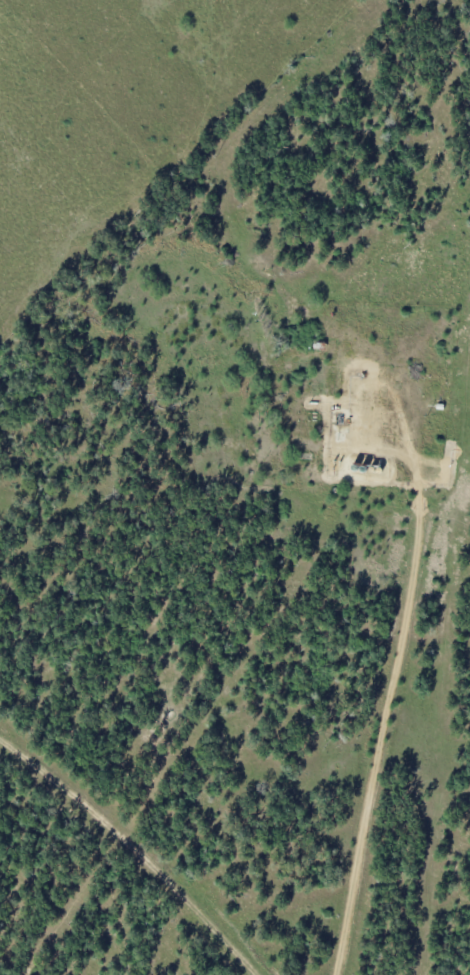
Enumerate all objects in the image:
road: (112, 852)

